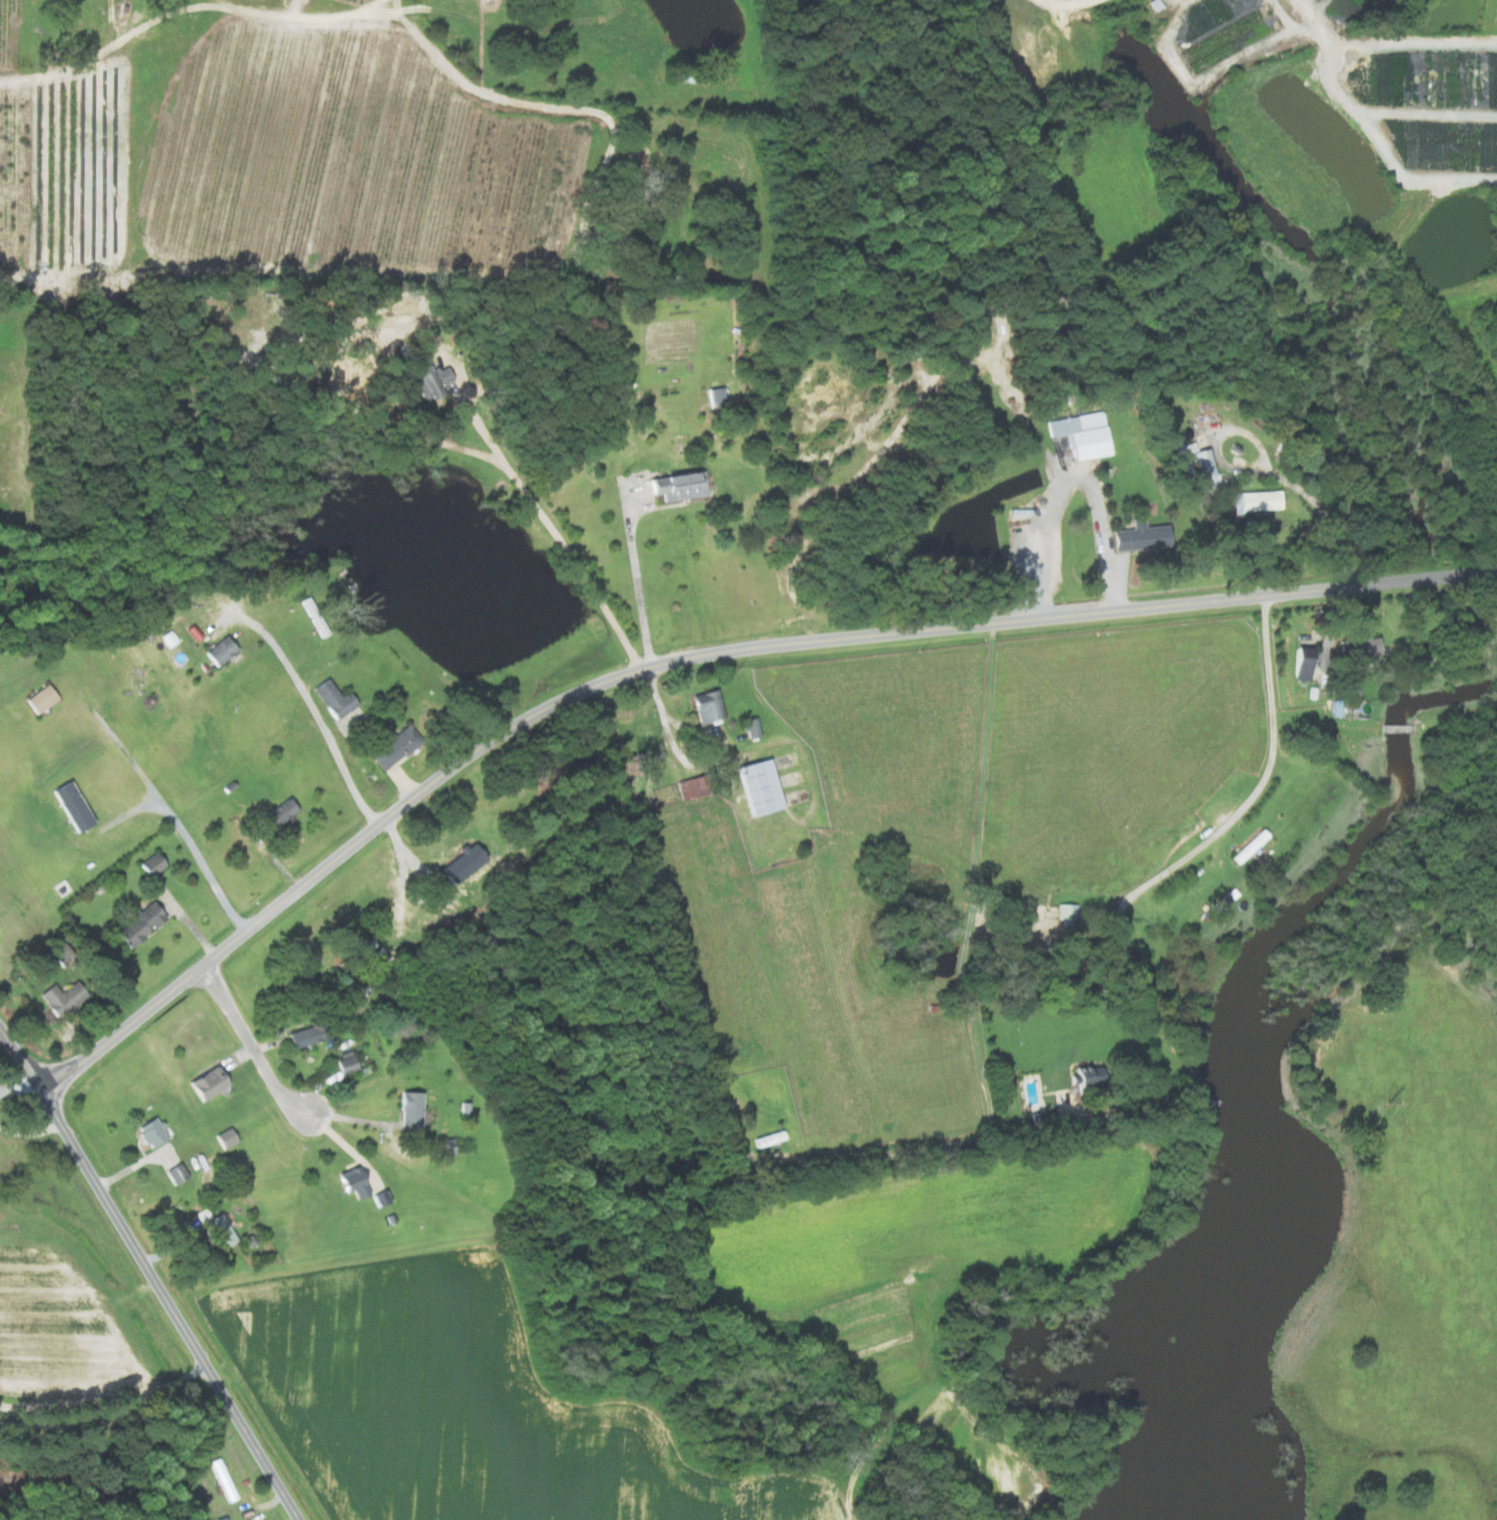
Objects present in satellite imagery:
road: (1079, 2)
road: (1376, 127)
road: (285, 276)
building: (429, 380)
building: (714, 397)
road: (471, 405)
road: (1275, 469)
building: (1204, 474)
road: (1067, 479)
building: (676, 487)
building: (1256, 501)
building: (1139, 538)
road: (637, 585)
building: (1360, 646)
building: (218, 651)
road: (702, 657)
building: (1301, 662)
building: (39, 699)
building: (705, 706)
building: (339, 707)
road: (324, 726)
building: (750, 728)
road: (112, 729)
building: (392, 746)
building: (757, 787)
building: (70, 807)
building: (277, 816)
road: (1205, 843)
building: (1248, 847)
road: (198, 855)
building: (150, 864)
building: (455, 872)
road: (403, 877)
building: (1065, 913)
building: (137, 923)
building: (59, 1000)
building: (299, 1038)
road: (251, 1045)
building: (344, 1065)
building: (1081, 1078)
road: (16, 1084)
building: (205, 1084)
building: (408, 1112)
road: (30, 1133)
building: (149, 1133)
building: (224, 1139)
road: (870, 1159)
building: (351, 1184)
building: (217, 1230)
road: (152, 1274)
road: (109, 1417)

